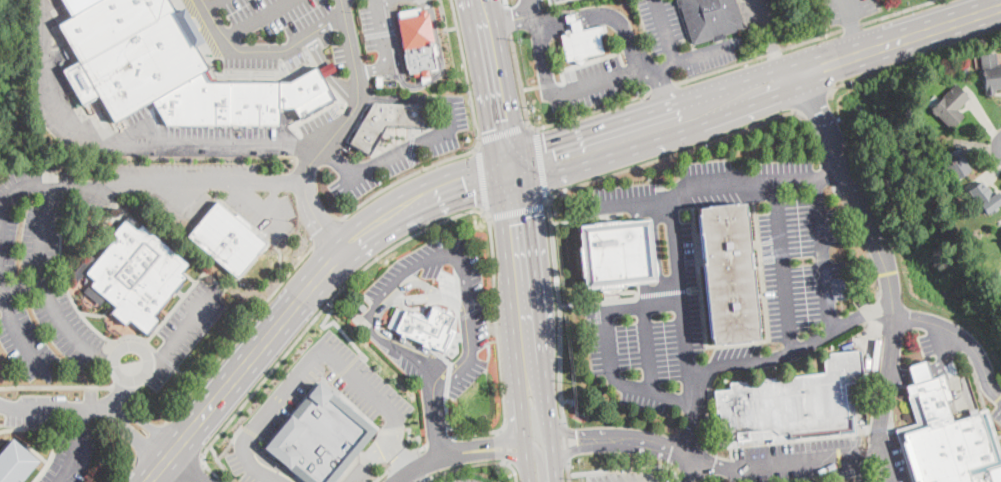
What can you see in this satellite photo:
road: (418, 1)
parking lot: (555, 1)
road: (504, 2)
road: (207, 3)
road: (394, 8)
parking lot: (849, 9)
road: (531, 10)
parking lot: (759, 11)
road: (897, 11)
road: (850, 12)
road: (513, 18)
road: (568, 18)
building: (711, 18)
road: (257, 19)
road: (507, 19)
road: (444, 20)
road: (764, 22)
building: (574, 23)
parking lot: (379, 24)
road: (852, 25)
parking lot: (268, 30)
road: (665, 30)
road: (382, 32)
road: (859, 37)
parking lot: (680, 38)
road: (896, 39)
building: (417, 41)
building: (583, 43)
road: (263, 50)
road: (393, 52)
road: (636, 52)
road: (691, 55)
road: (759, 55)
road: (541, 57)
road: (781, 59)
road: (910, 59)
road: (590, 61)
road: (440, 62)
building: (168, 68)
road: (466, 69)
building: (328, 70)
road: (328, 71)
building: (966, 71)
building: (991, 73)
road: (599, 78)
building: (379, 80)
road: (520, 82)
road: (548, 83)
parking lot: (591, 85)
road: (494, 86)
road: (531, 86)
road: (662, 87)
road: (810, 98)
building: (951, 106)
road: (592, 110)
road: (647, 113)
building: (389, 122)
traffic signals: (502, 122)
road: (335, 131)
road: (504, 131)
road: (811, 131)
road: (431, 137)
road: (124, 139)
road: (657, 139)
traffic signals: (548, 144)
parking lot: (408, 147)
road: (670, 153)
road: (541, 162)
building: (958, 164)
road: (830, 169)
road: (826, 173)
road: (189, 175)
road: (411, 175)
road: (482, 178)
traffic signals: (471, 182)
road: (30, 183)
parking lot: (712, 183)
parking lot: (73, 190)
road: (433, 194)
road: (272, 197)
road: (631, 198)
building: (989, 200)
road: (255, 202)
parking lot: (263, 208)
road: (671, 210)
road: (519, 211)
parking lot: (4, 214)
traffic signals: (518, 219)
building: (133, 221)
building: (949, 224)
road: (326, 231)
road: (259, 232)
road: (860, 238)
building: (225, 239)
parking lot: (40, 245)
building: (967, 250)
parking lot: (681, 252)
road: (825, 252)
building: (617, 253)
parking lot: (799, 253)
road: (880, 253)
road: (329, 263)
road: (783, 265)
road: (406, 269)
building: (731, 273)
road: (204, 274)
building: (137, 275)
road: (524, 279)
road: (63, 280)
road: (412, 282)
road: (21, 290)
road: (695, 290)
road: (664, 293)
road: (46, 294)
road: (410, 296)
road: (600, 302)
road: (560, 310)
road: (311, 319)
road: (332, 321)
parking lot: (67, 328)
parking lot: (185, 328)
building: (424, 328)
road: (238, 334)
road: (178, 335)
road: (961, 336)
road: (18, 337)
road: (130, 338)
road: (499, 343)
parking lot: (27, 345)
road: (738, 346)
road: (605, 347)
road: (648, 347)
road: (318, 348)
parking lot: (650, 350)
parking lot: (744, 356)
road: (754, 358)
road: (165, 359)
road: (343, 368)
road: (188, 375)
parking lot: (357, 378)
road: (123, 386)
road: (55, 387)
road: (222, 390)
road: (122, 392)
parking lot: (283, 397)
building: (573, 401)
road: (152, 404)
building: (792, 404)
road: (40, 406)
road: (545, 414)
road: (129, 418)
road: (438, 423)
road: (58, 429)
road: (249, 429)
road: (527, 434)
building: (321, 436)
road: (150, 438)
road: (411, 438)
road: (620, 439)
building: (948, 439)
road: (439, 440)
road: (231, 442)
road: (566, 443)
road: (72, 445)
road: (502, 445)
road: (421, 448)
road: (457, 453)
road: (400, 455)
parking lot: (69, 456)
road: (402, 459)
parking lot: (250, 460)
road: (539, 460)
parking lot: (794, 461)
road: (268, 462)
road: (799, 462)
building: (15, 463)
road: (221, 463)
road: (553, 463)
road: (464, 465)
road: (628, 467)
road: (184, 468)
road: (125, 469)
road: (688, 469)
road: (513, 470)
road: (567, 472)
road: (195, 473)
road: (380, 475)
road: (613, 475)
parking lot: (624, 476)
road: (414, 477)
road: (420, 480)
parking lot: (464, 480)

